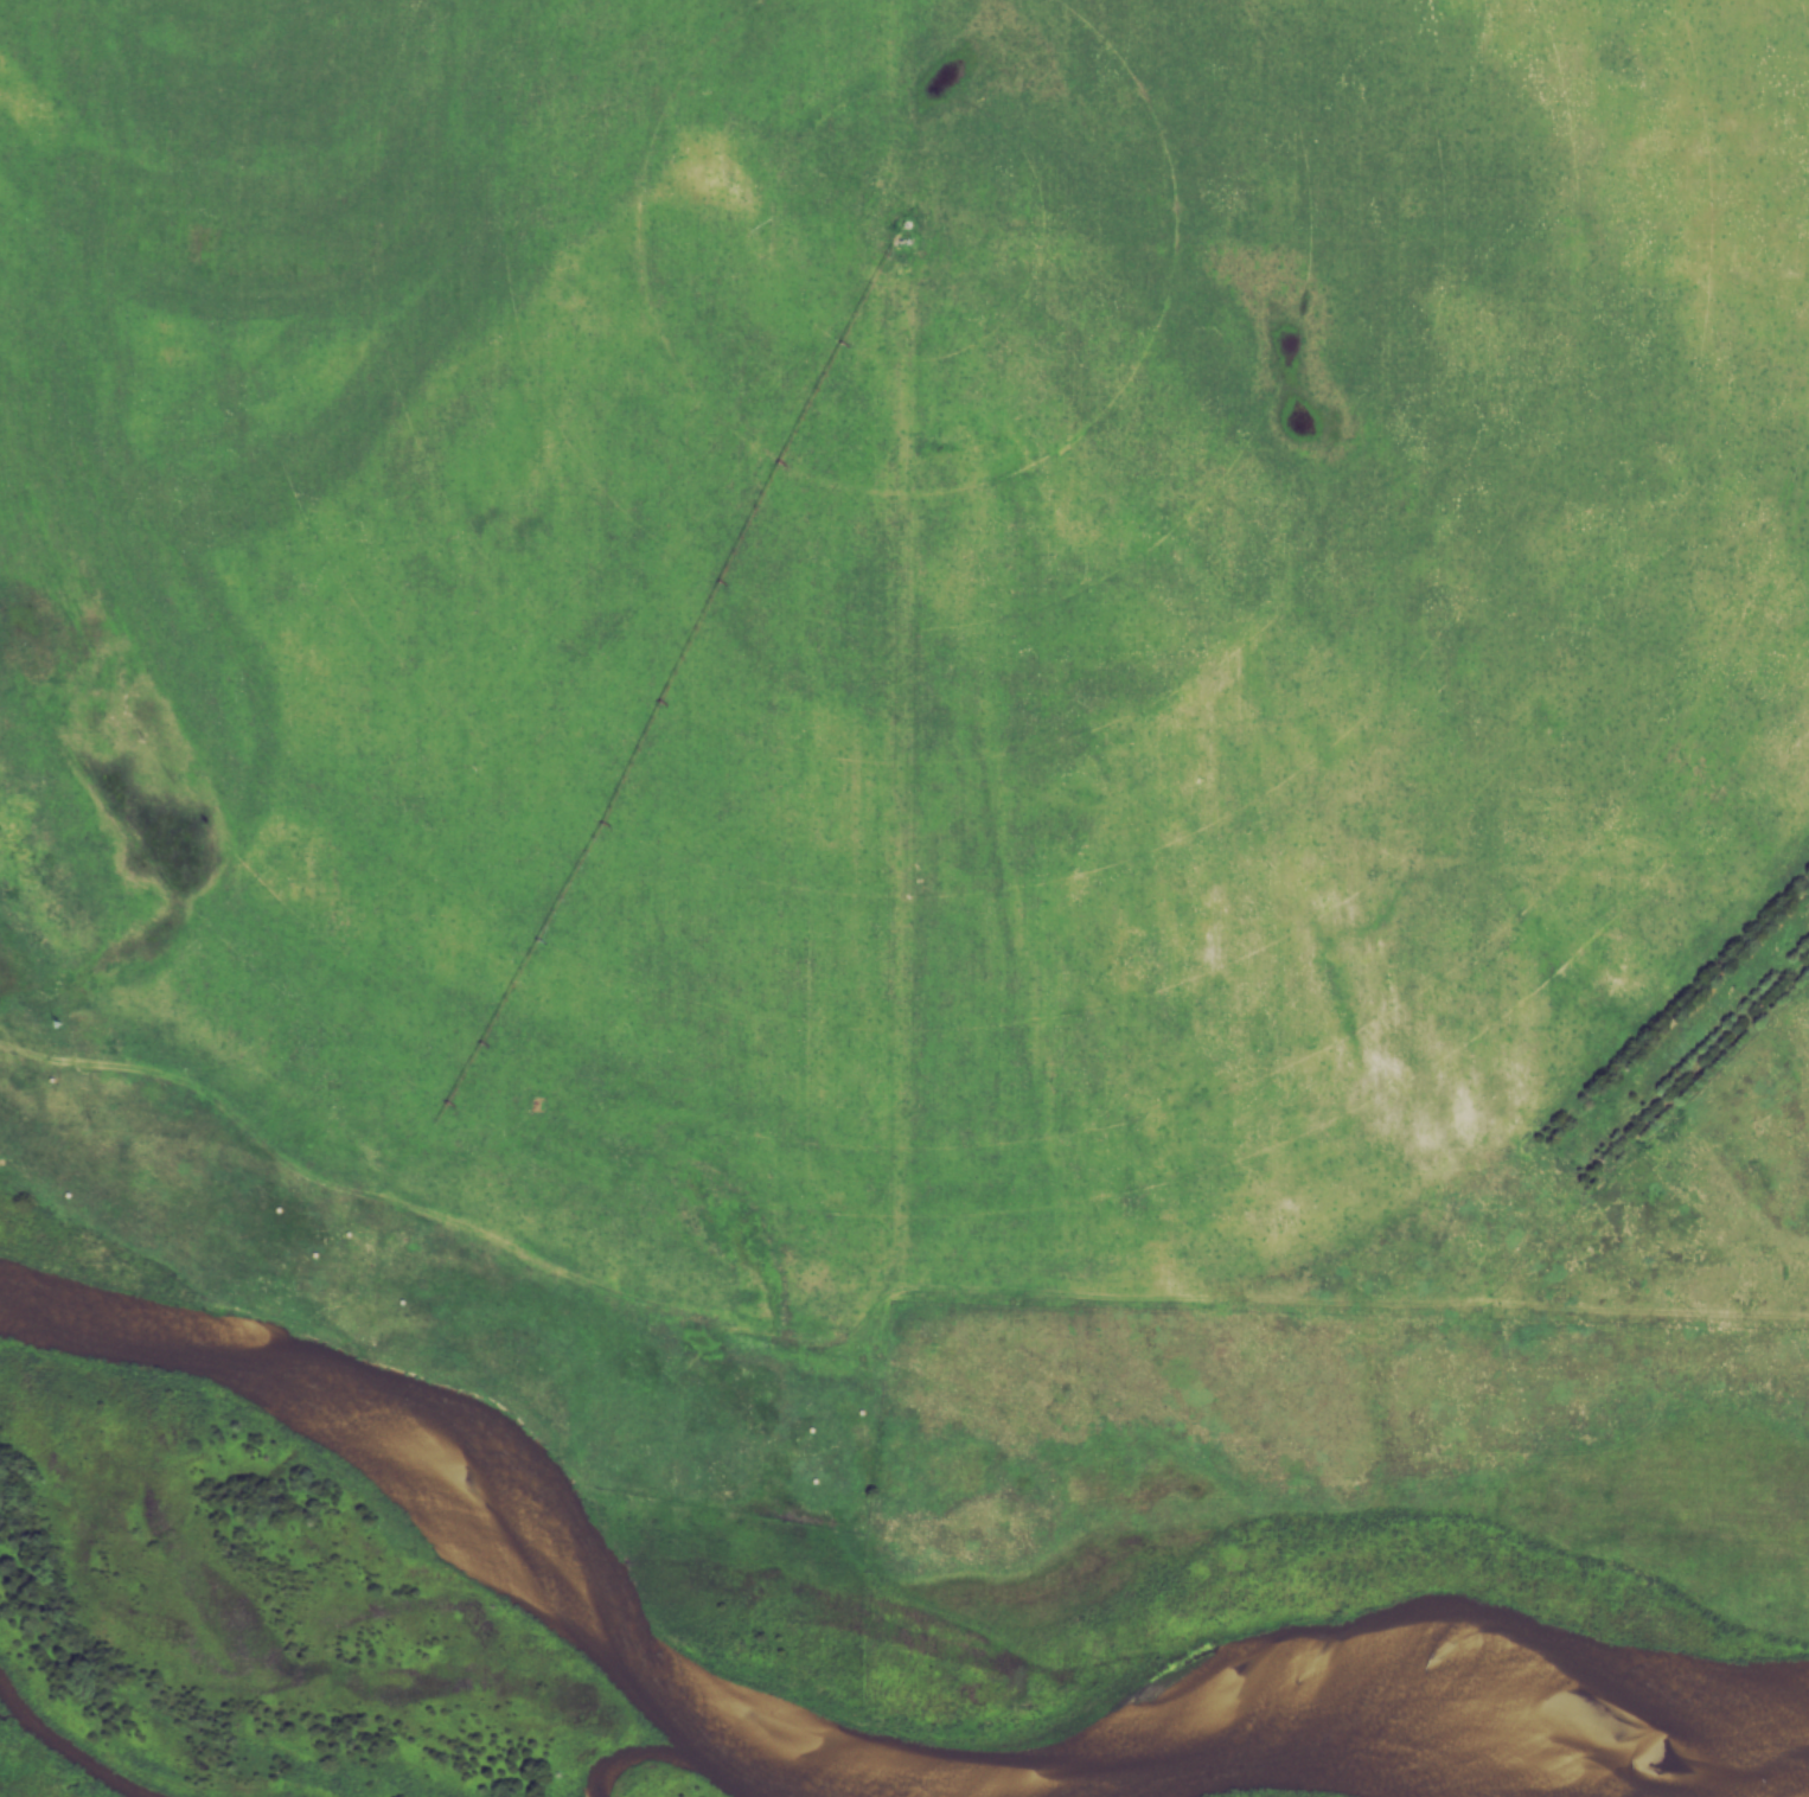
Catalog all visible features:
river: (842, 1764)

